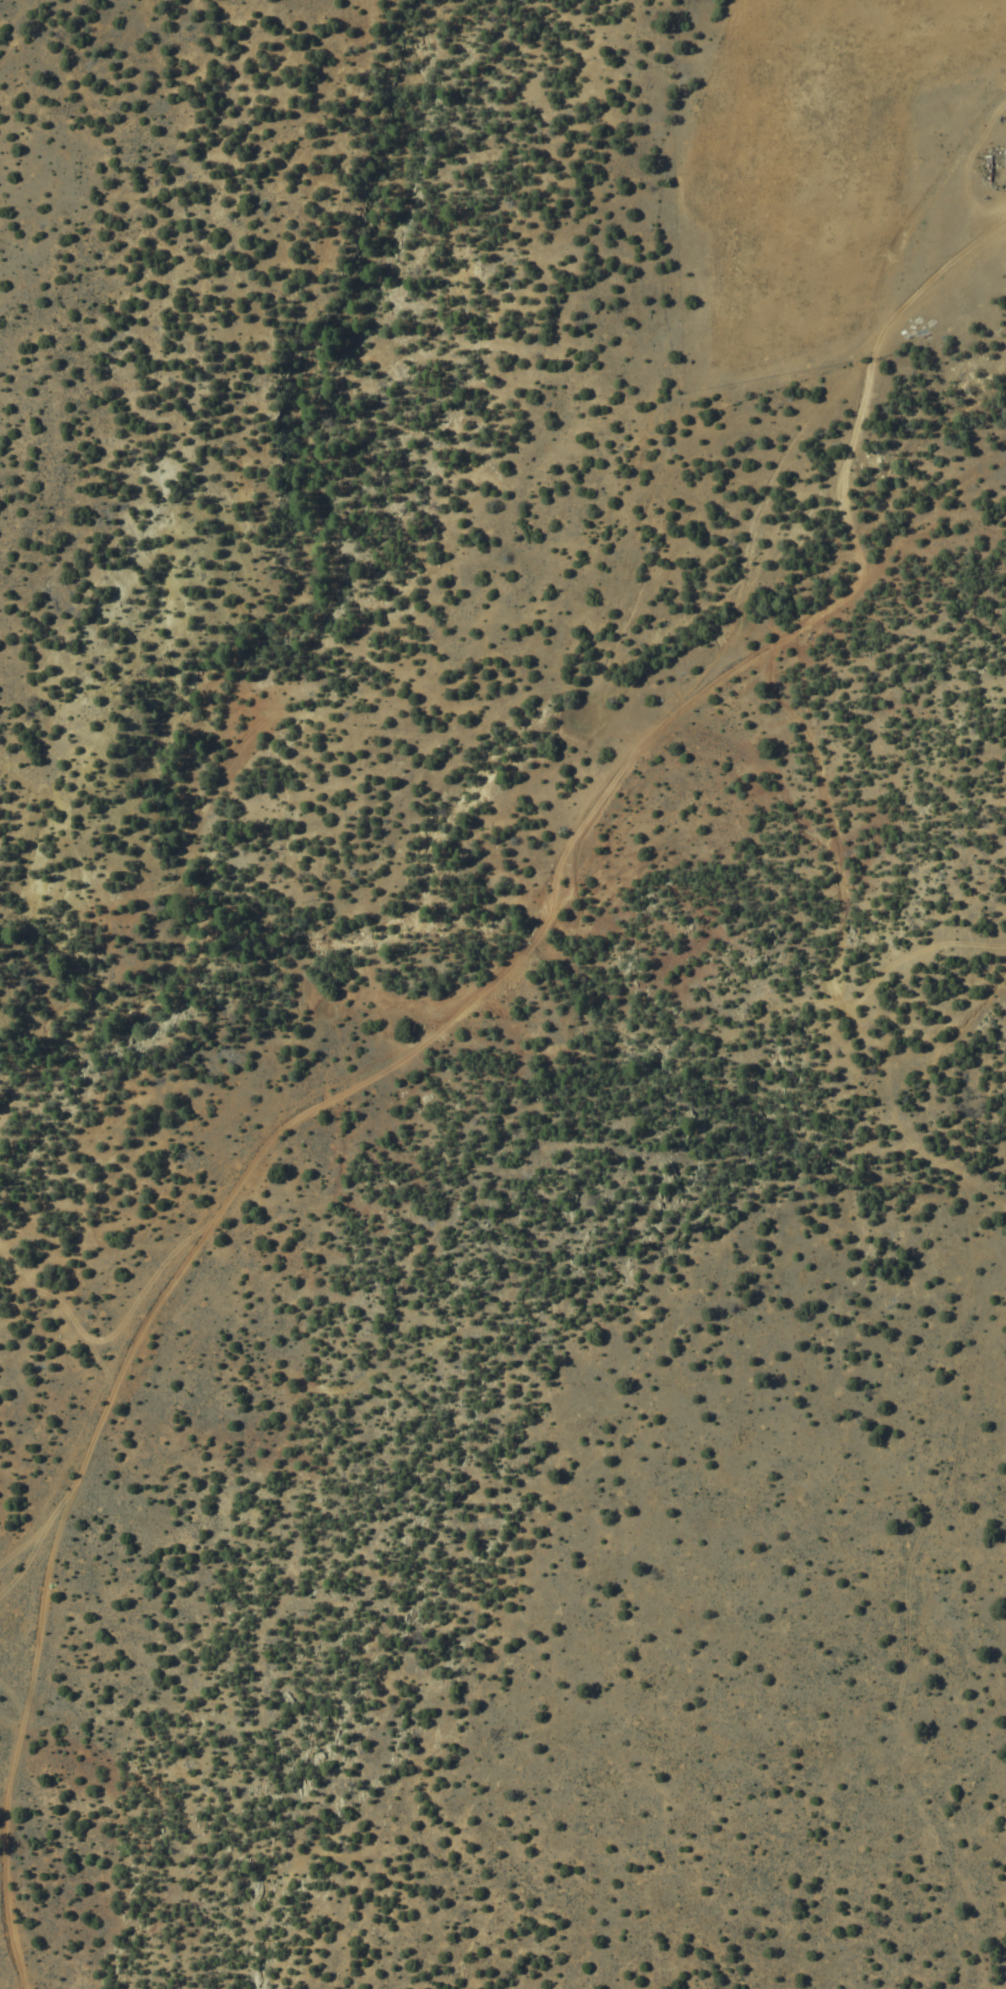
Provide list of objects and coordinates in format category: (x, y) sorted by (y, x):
road: (551, 911)
road: (9, 1946)

